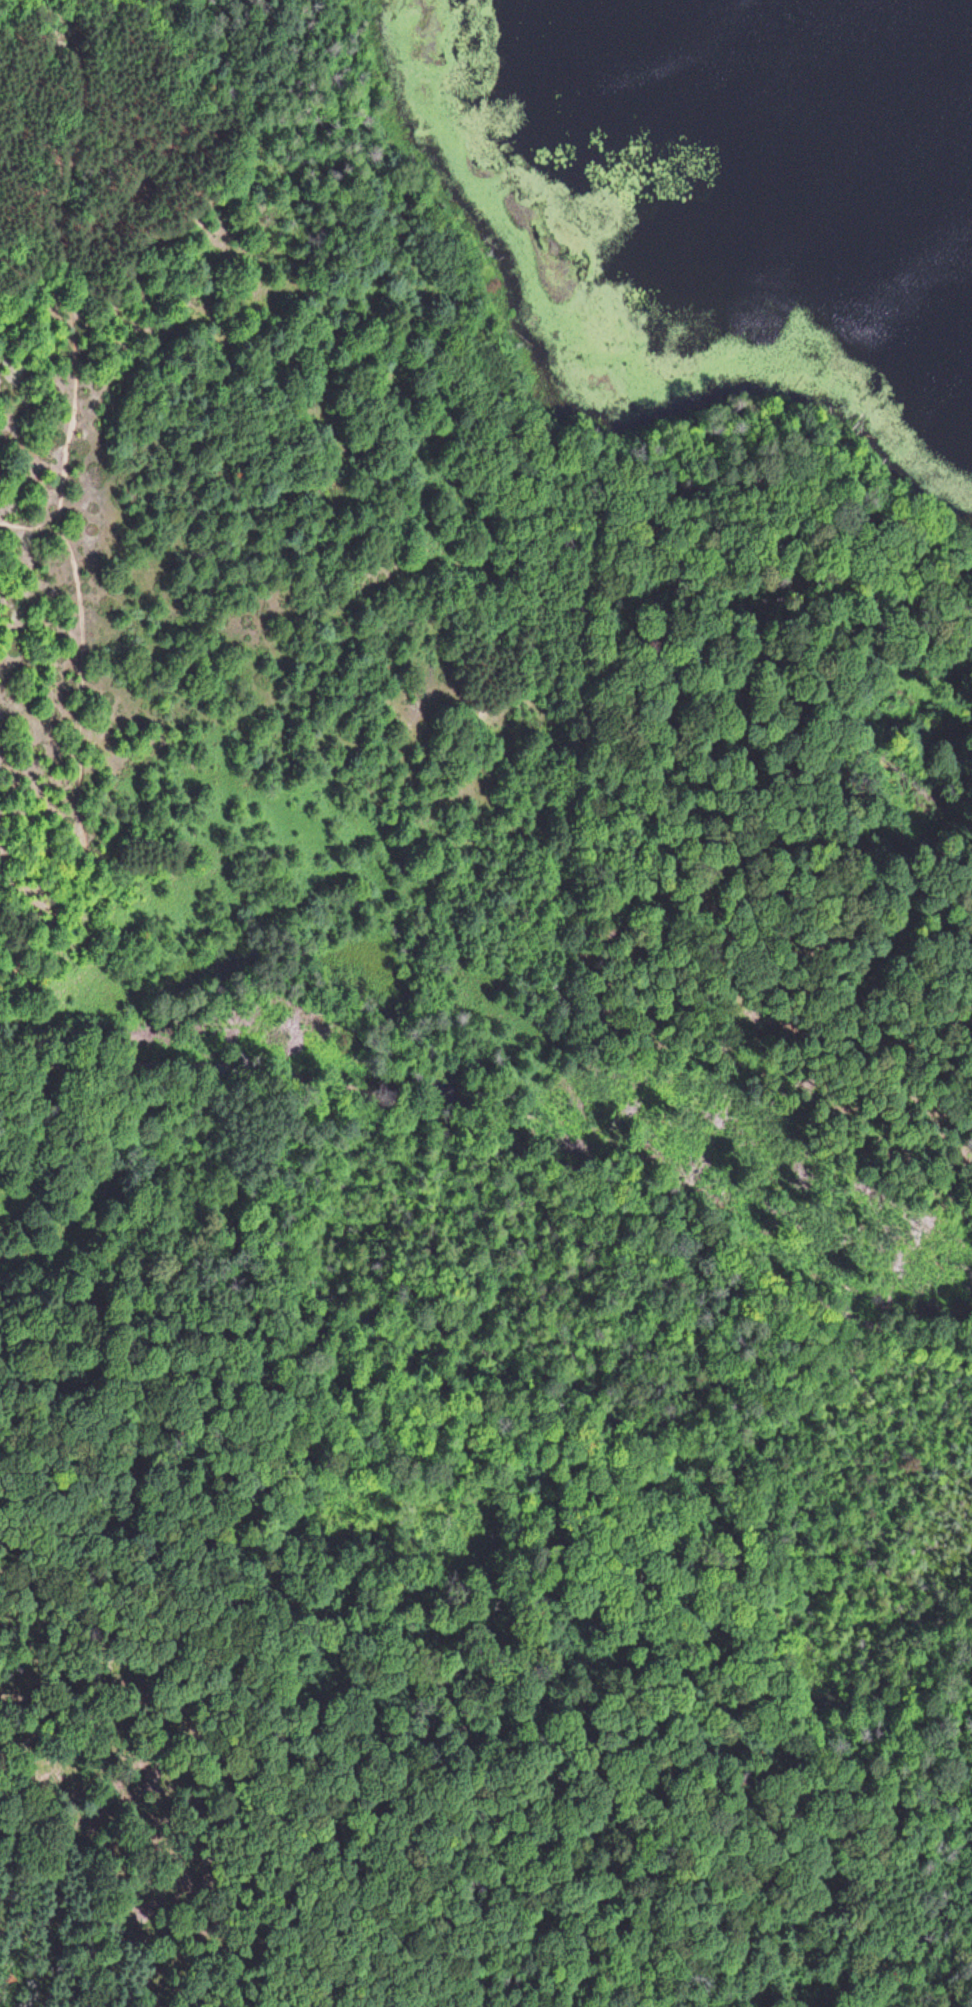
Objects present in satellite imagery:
road: (71, 270)
road: (504, 1141)

